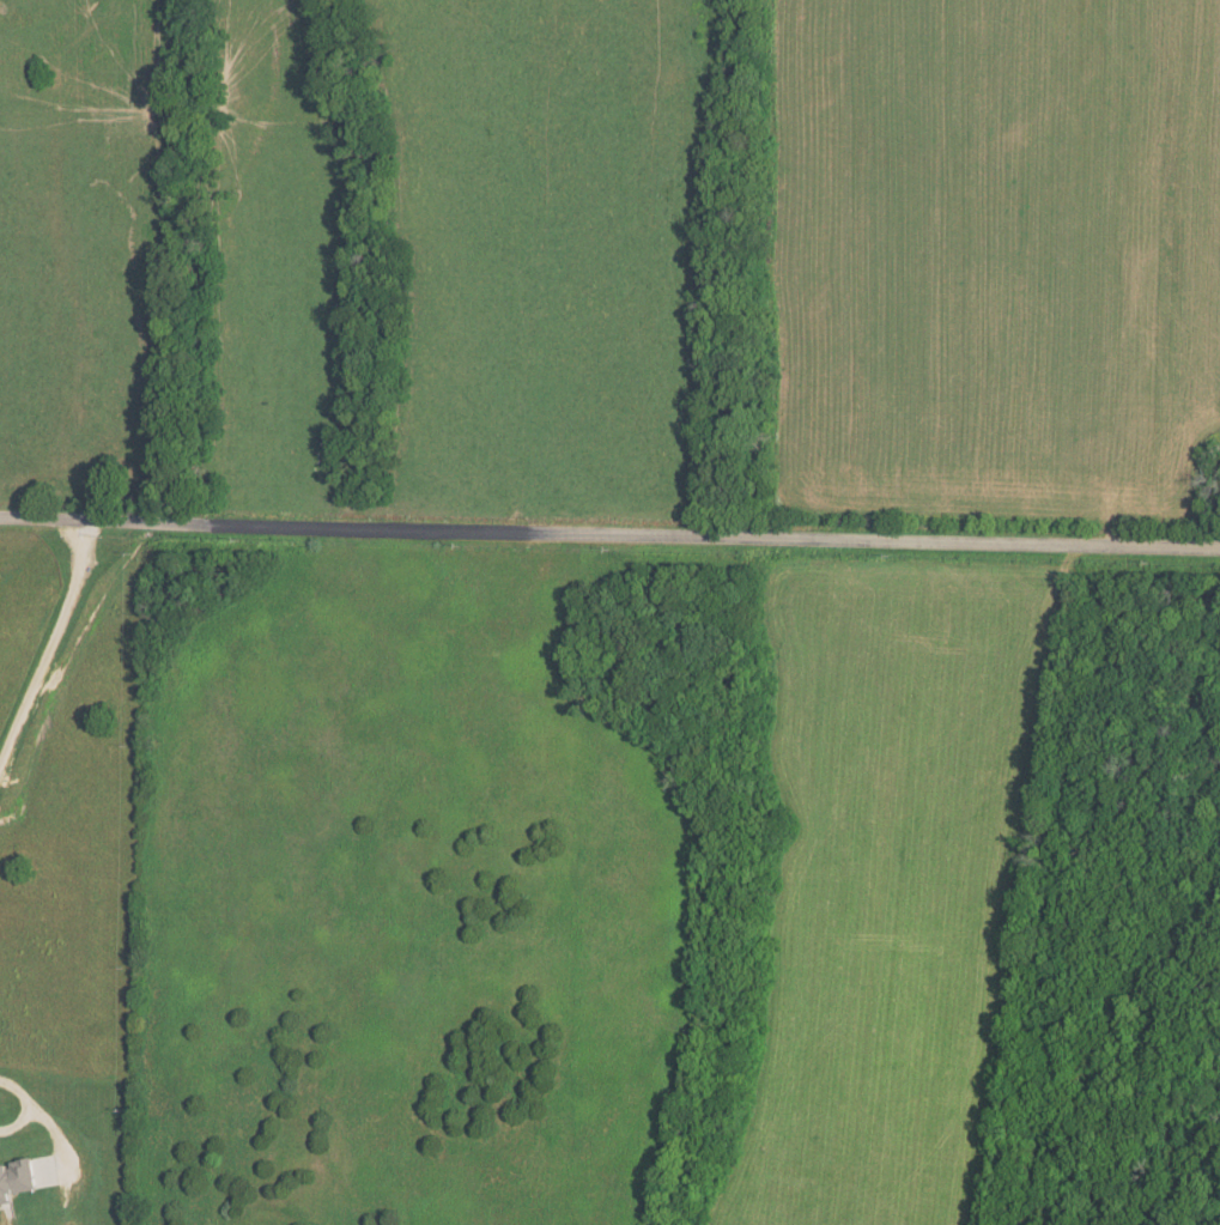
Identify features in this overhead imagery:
road: (609, 534)
road: (50, 639)

